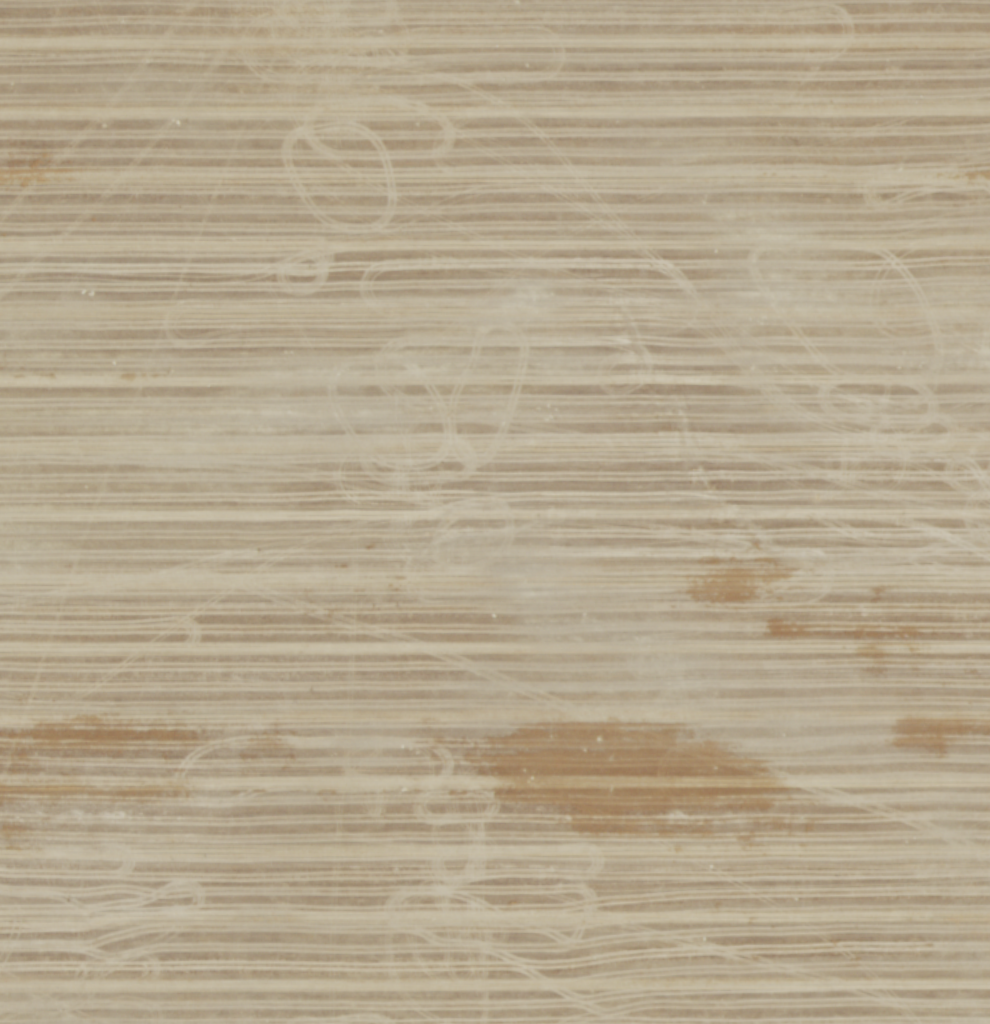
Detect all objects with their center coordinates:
crop: (495, 512)

